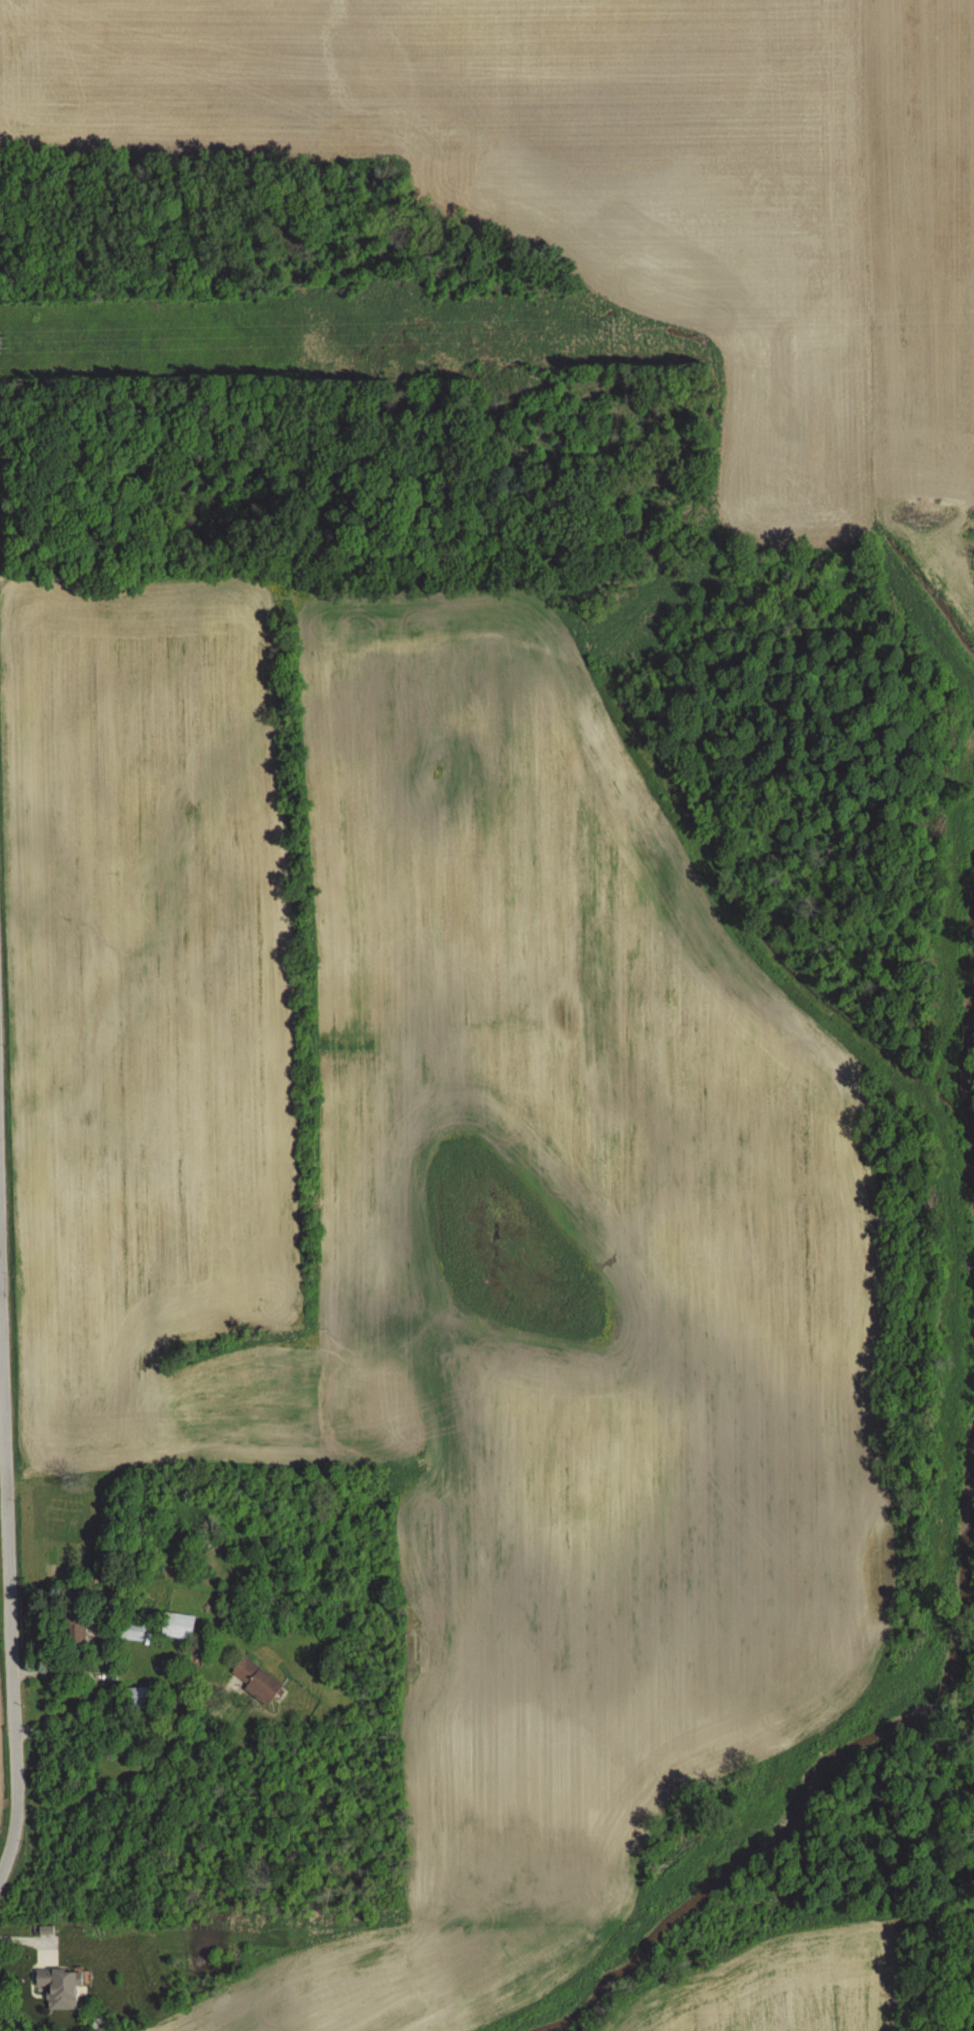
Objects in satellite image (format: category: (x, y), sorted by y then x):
building: (177, 1626)
building: (131, 1632)
building: (78, 1633)
building: (255, 1682)
building: (138, 1699)
road: (6, 1862)
building: (56, 1987)

